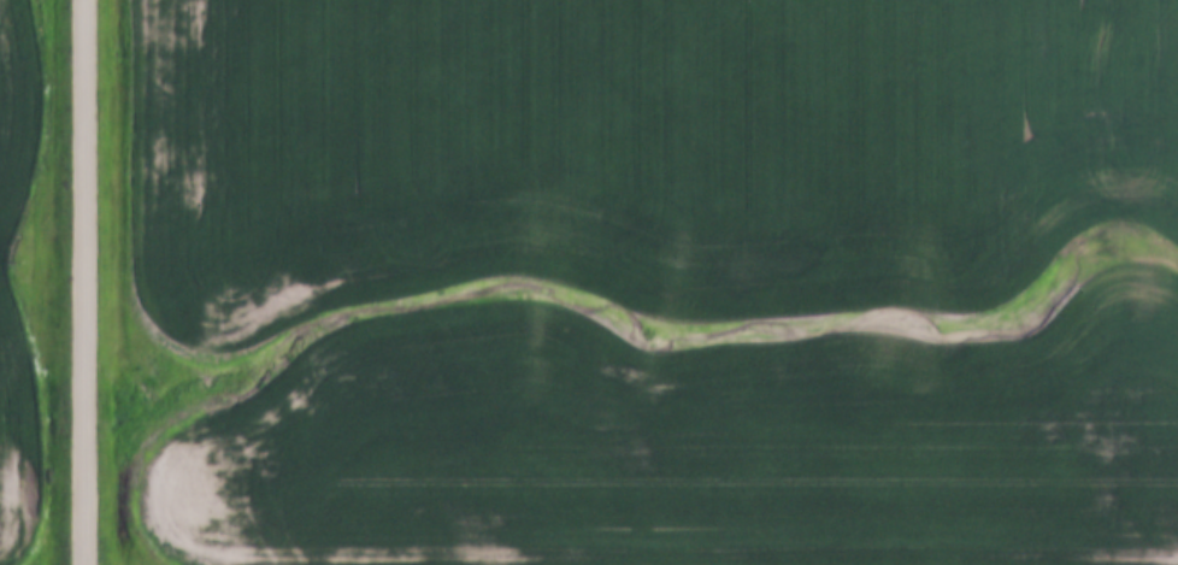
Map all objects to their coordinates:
road: (83, 282)

